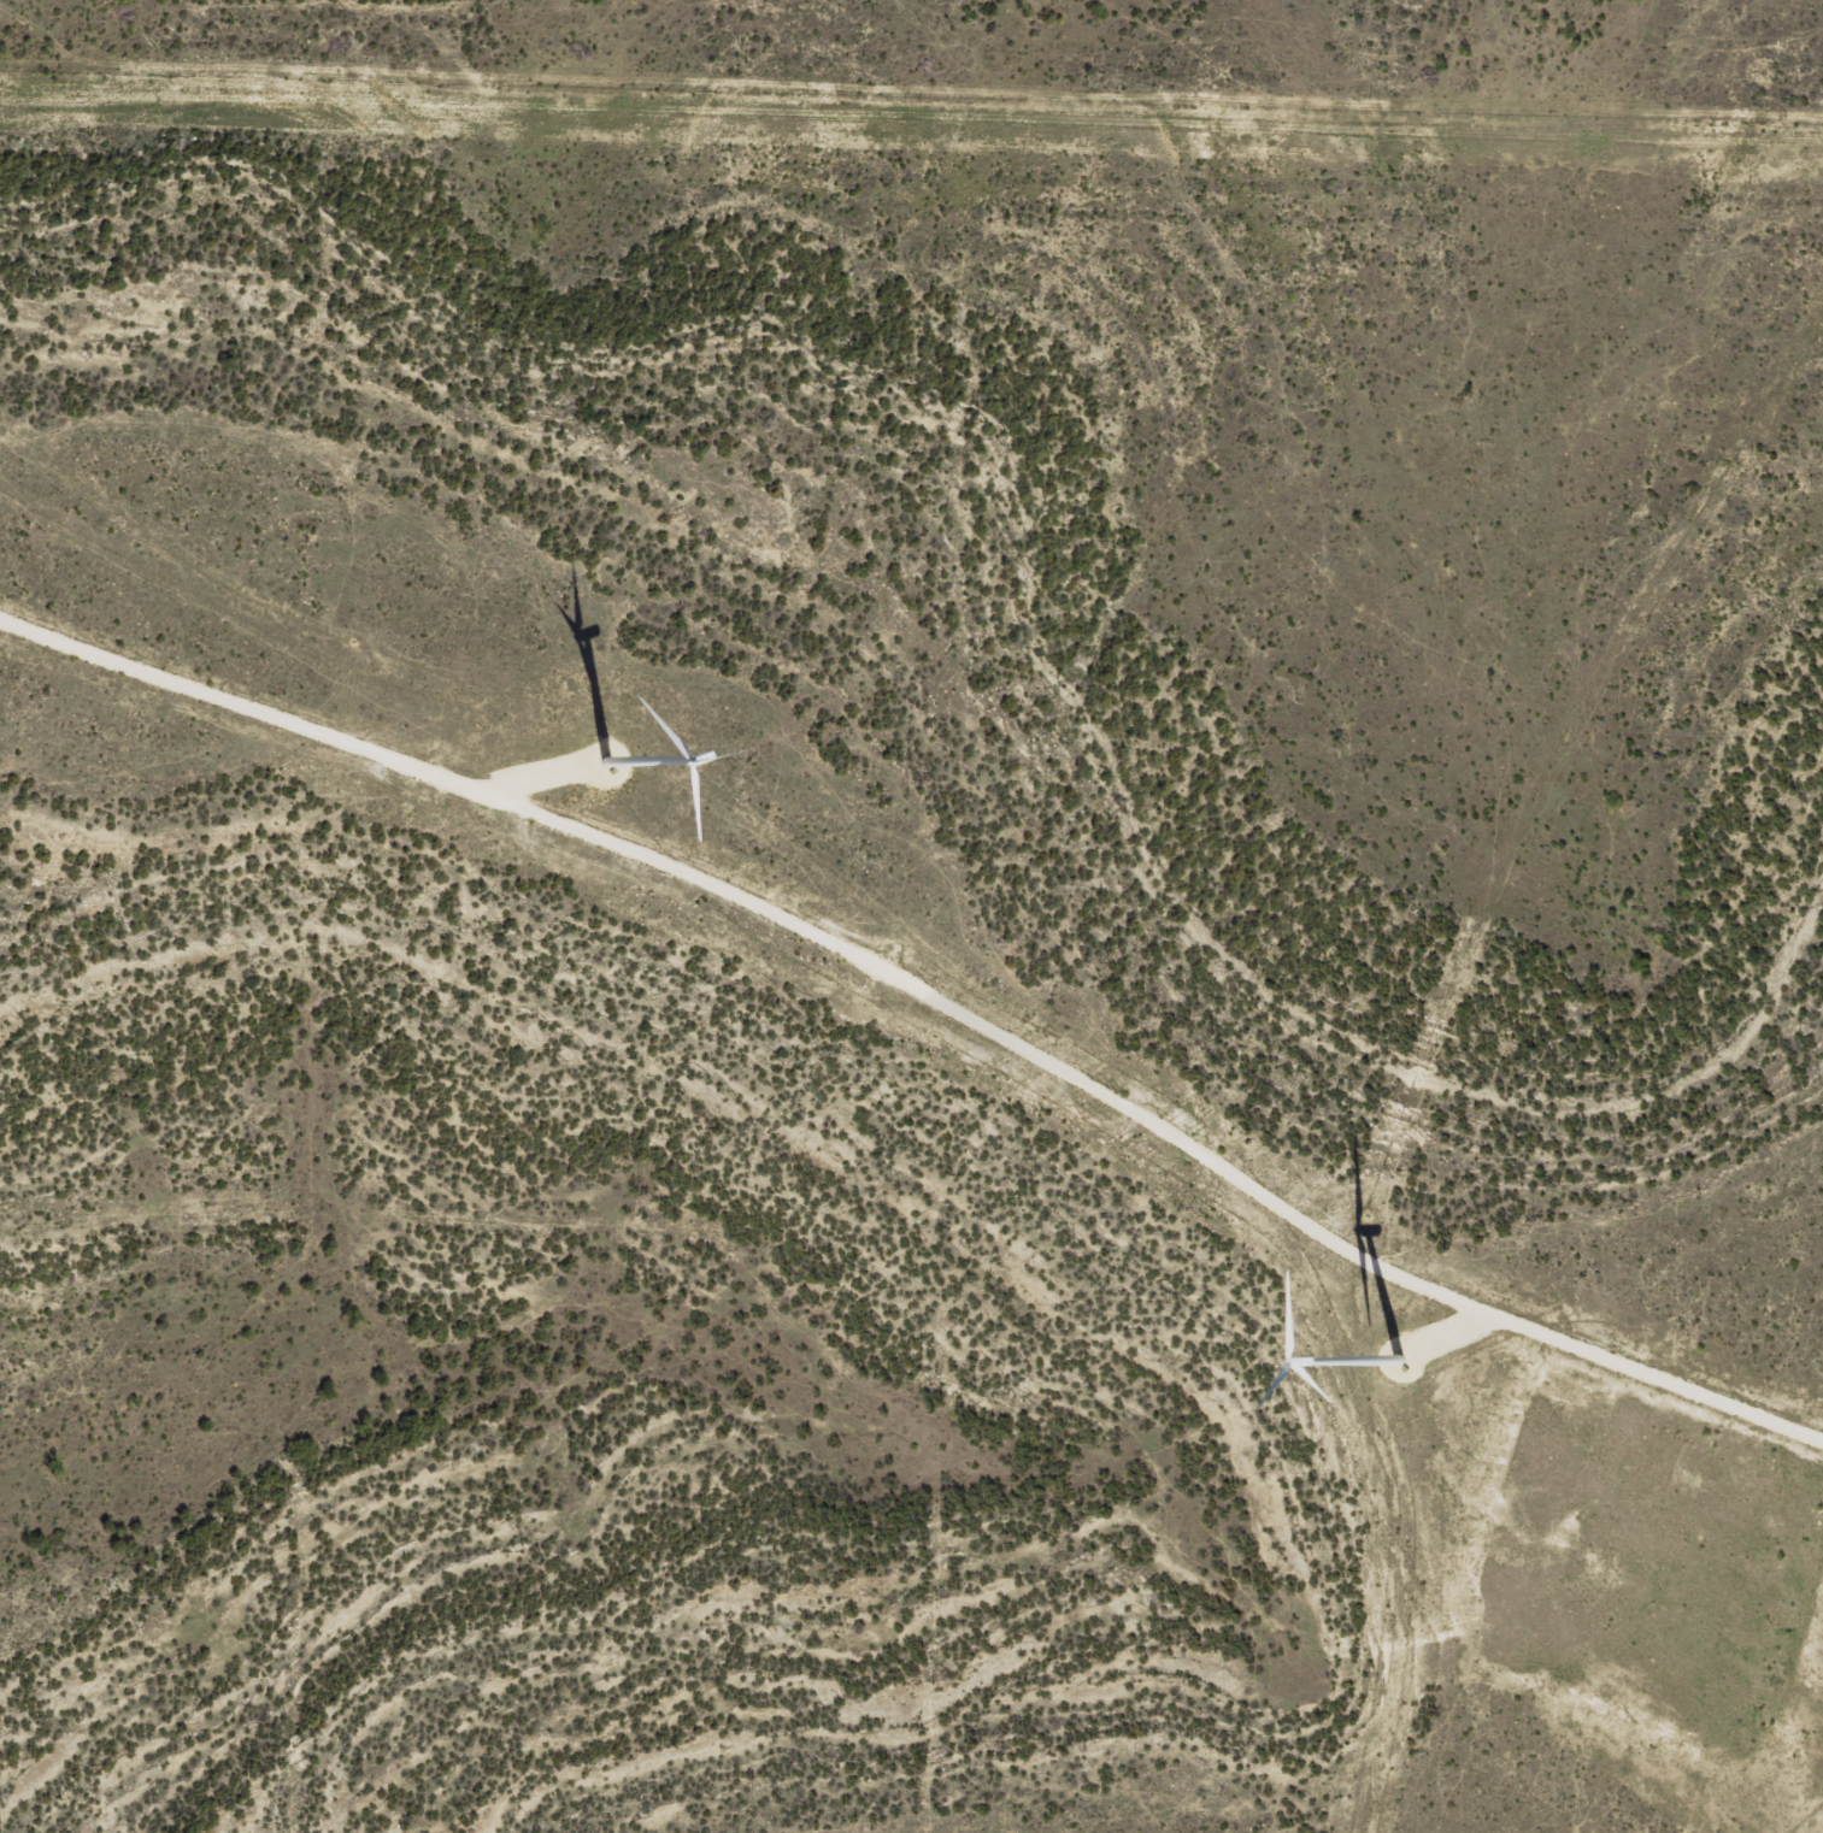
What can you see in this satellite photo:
wind turbine: (606, 762)
road: (924, 1002)
wind turbine: (1400, 1358)

